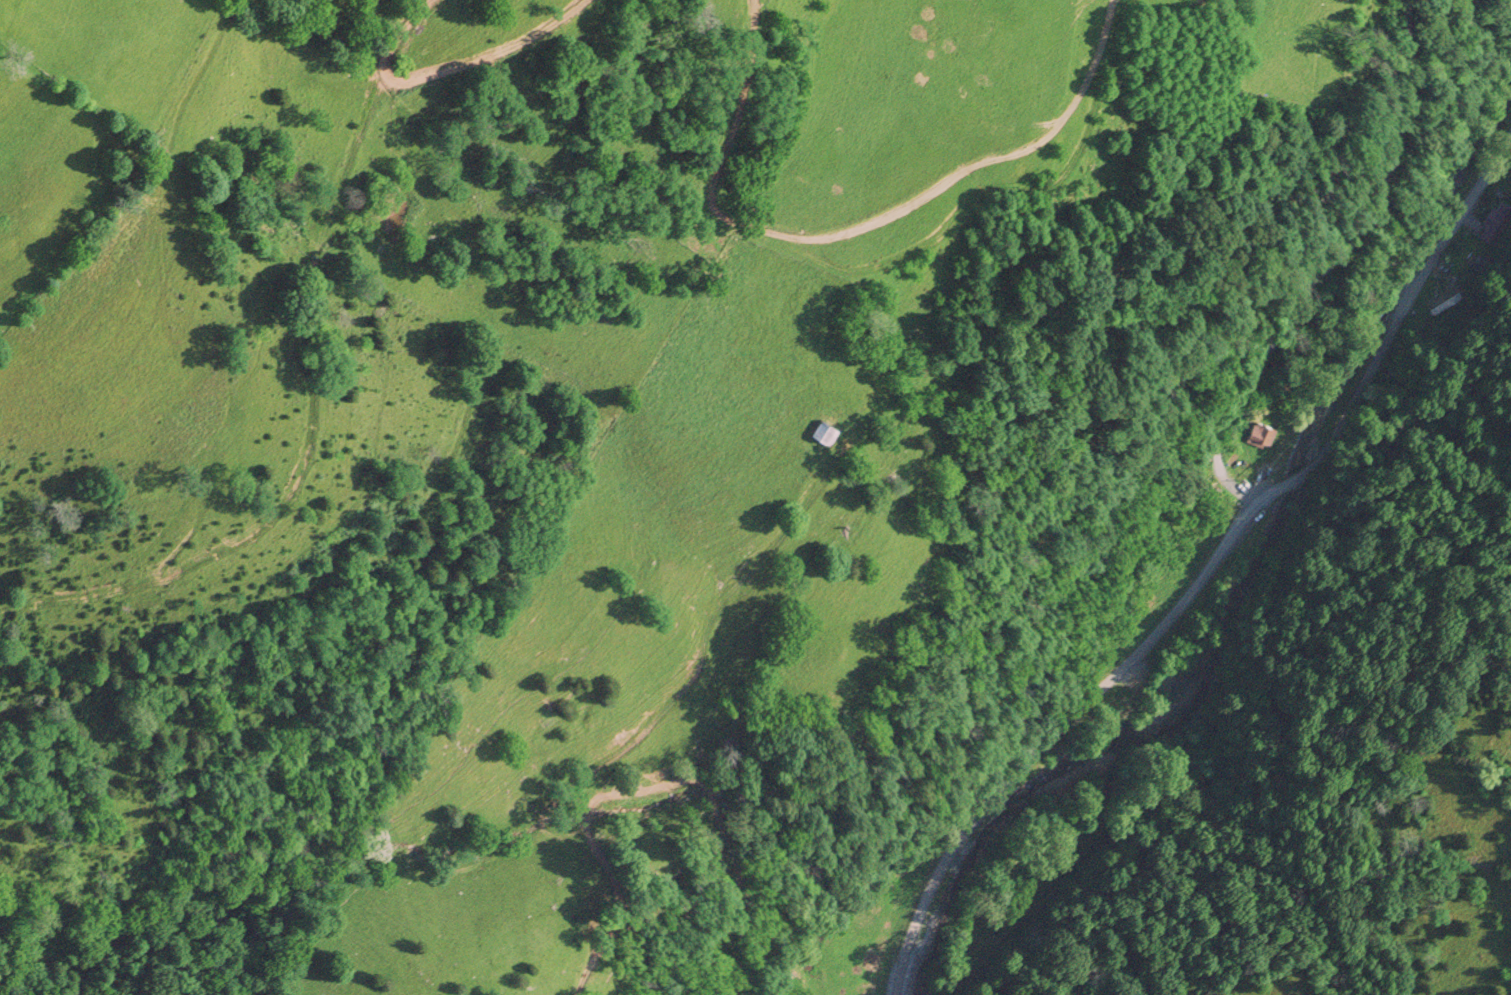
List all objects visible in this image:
building: (1498, 224)
road: (1318, 262)
road: (1410, 301)
building: (1446, 303)
building: (821, 433)
building: (1260, 437)
building: (1209, 438)
road: (1304, 475)
road: (1067, 718)
road: (656, 788)

